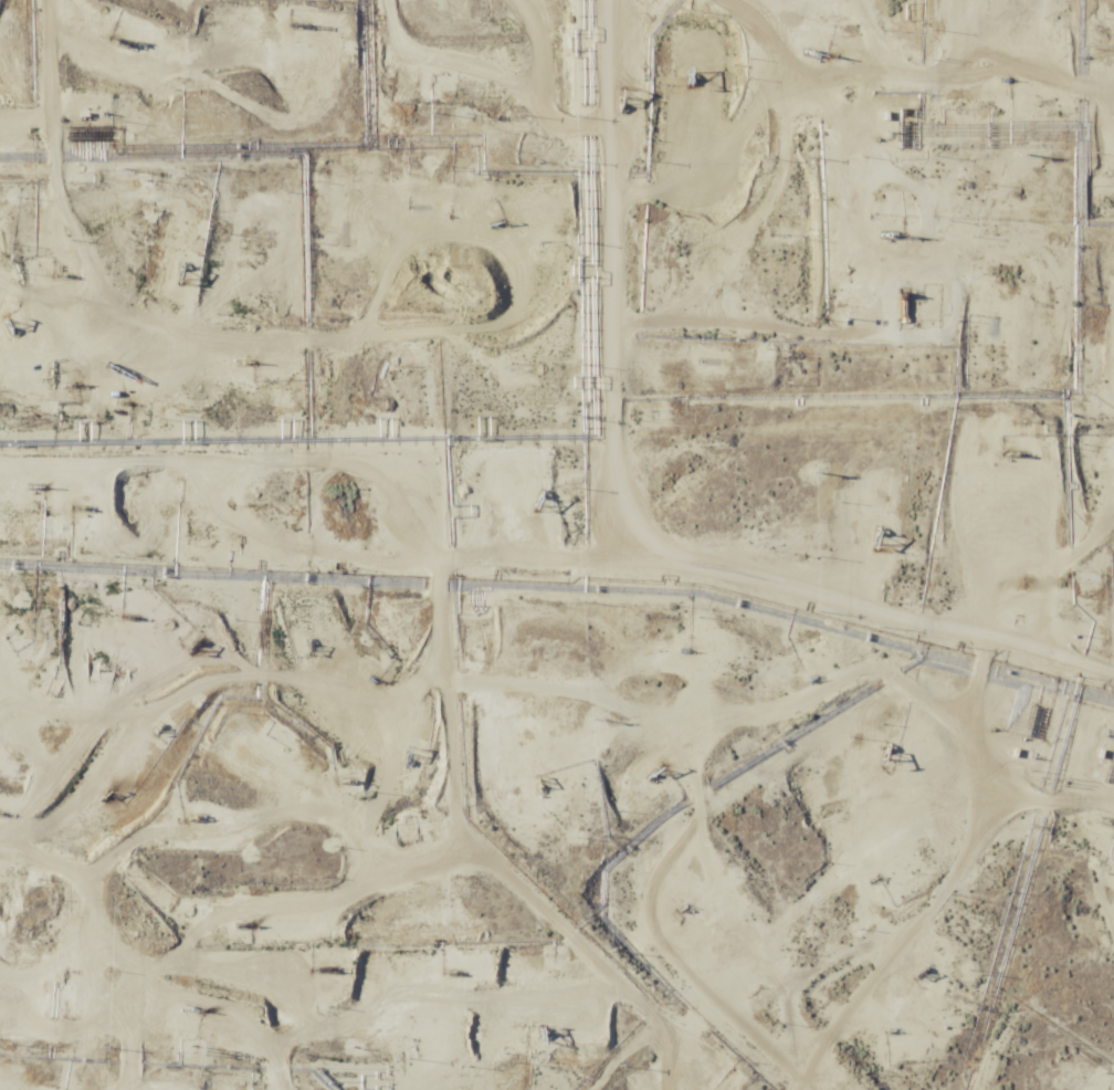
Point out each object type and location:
road: (1091, 151)
road: (490, 169)
road: (392, 342)
road: (500, 620)
road: (692, 783)
road: (815, 839)
road: (822, 952)
road: (686, 1058)

